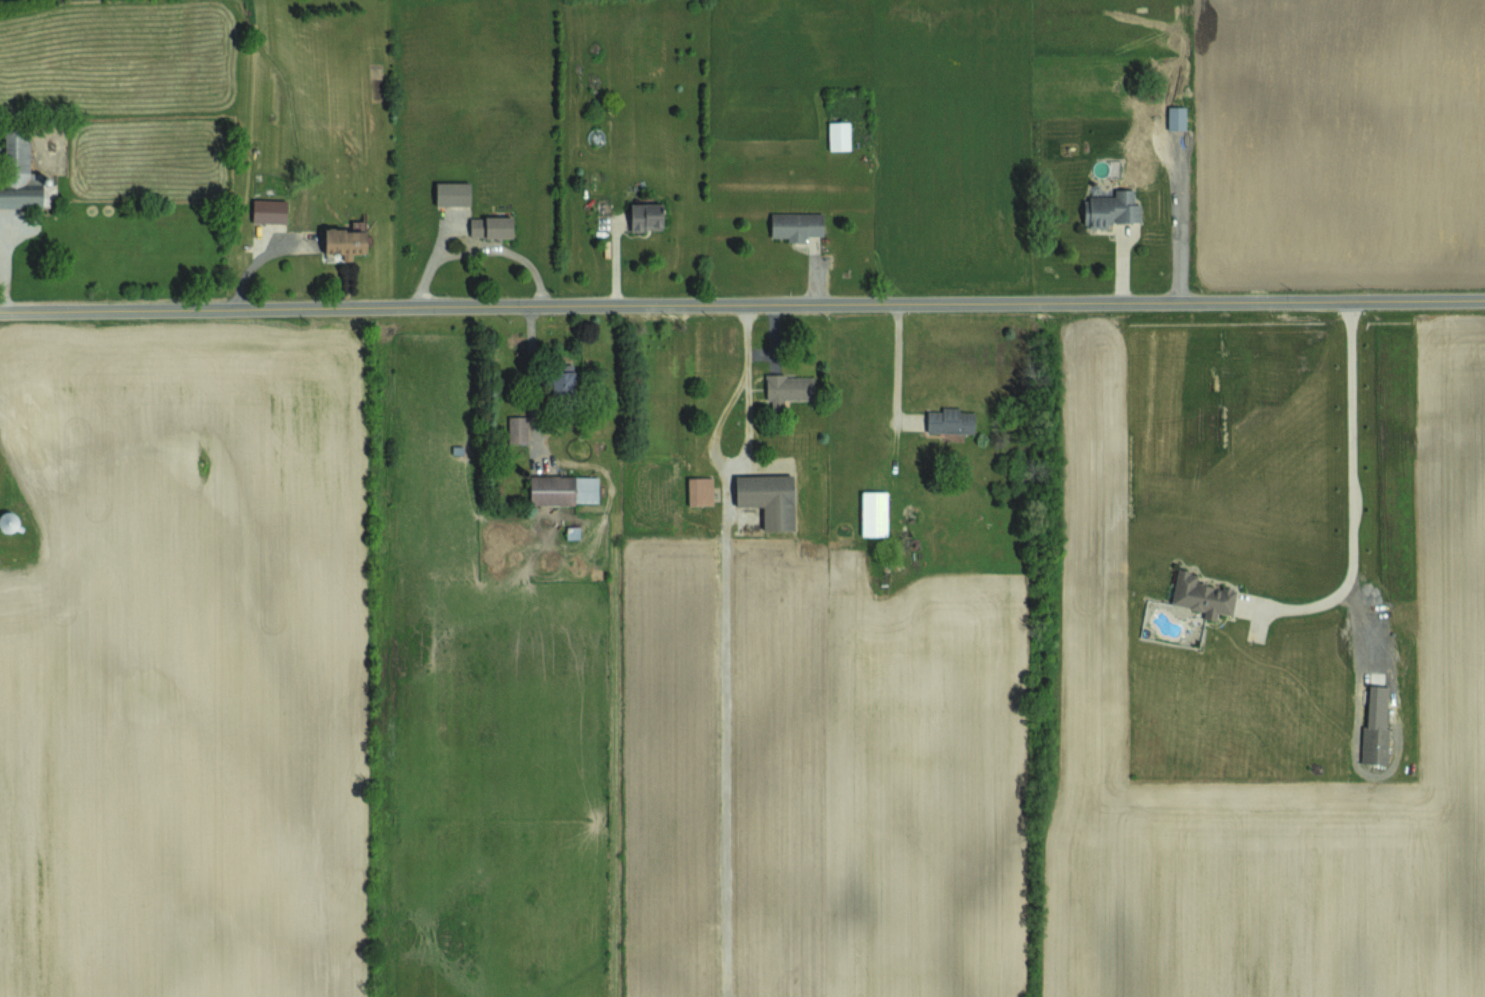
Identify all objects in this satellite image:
building: (1175, 117)
building: (838, 135)
building: (23, 175)
building: (452, 193)
building: (1111, 208)
building: (269, 210)
building: (645, 216)
building: (796, 225)
building: (490, 226)
building: (345, 242)
road: (479, 248)
road: (742, 306)
road: (533, 378)
building: (563, 381)
building: (788, 388)
building: (949, 420)
building: (517, 429)
road: (744, 443)
road: (1355, 481)
building: (563, 489)
building: (700, 490)
building: (768, 498)
building: (873, 513)
building: (7, 521)
building: (572, 532)
building: (1201, 595)
road: (1320, 601)
building: (1375, 727)

